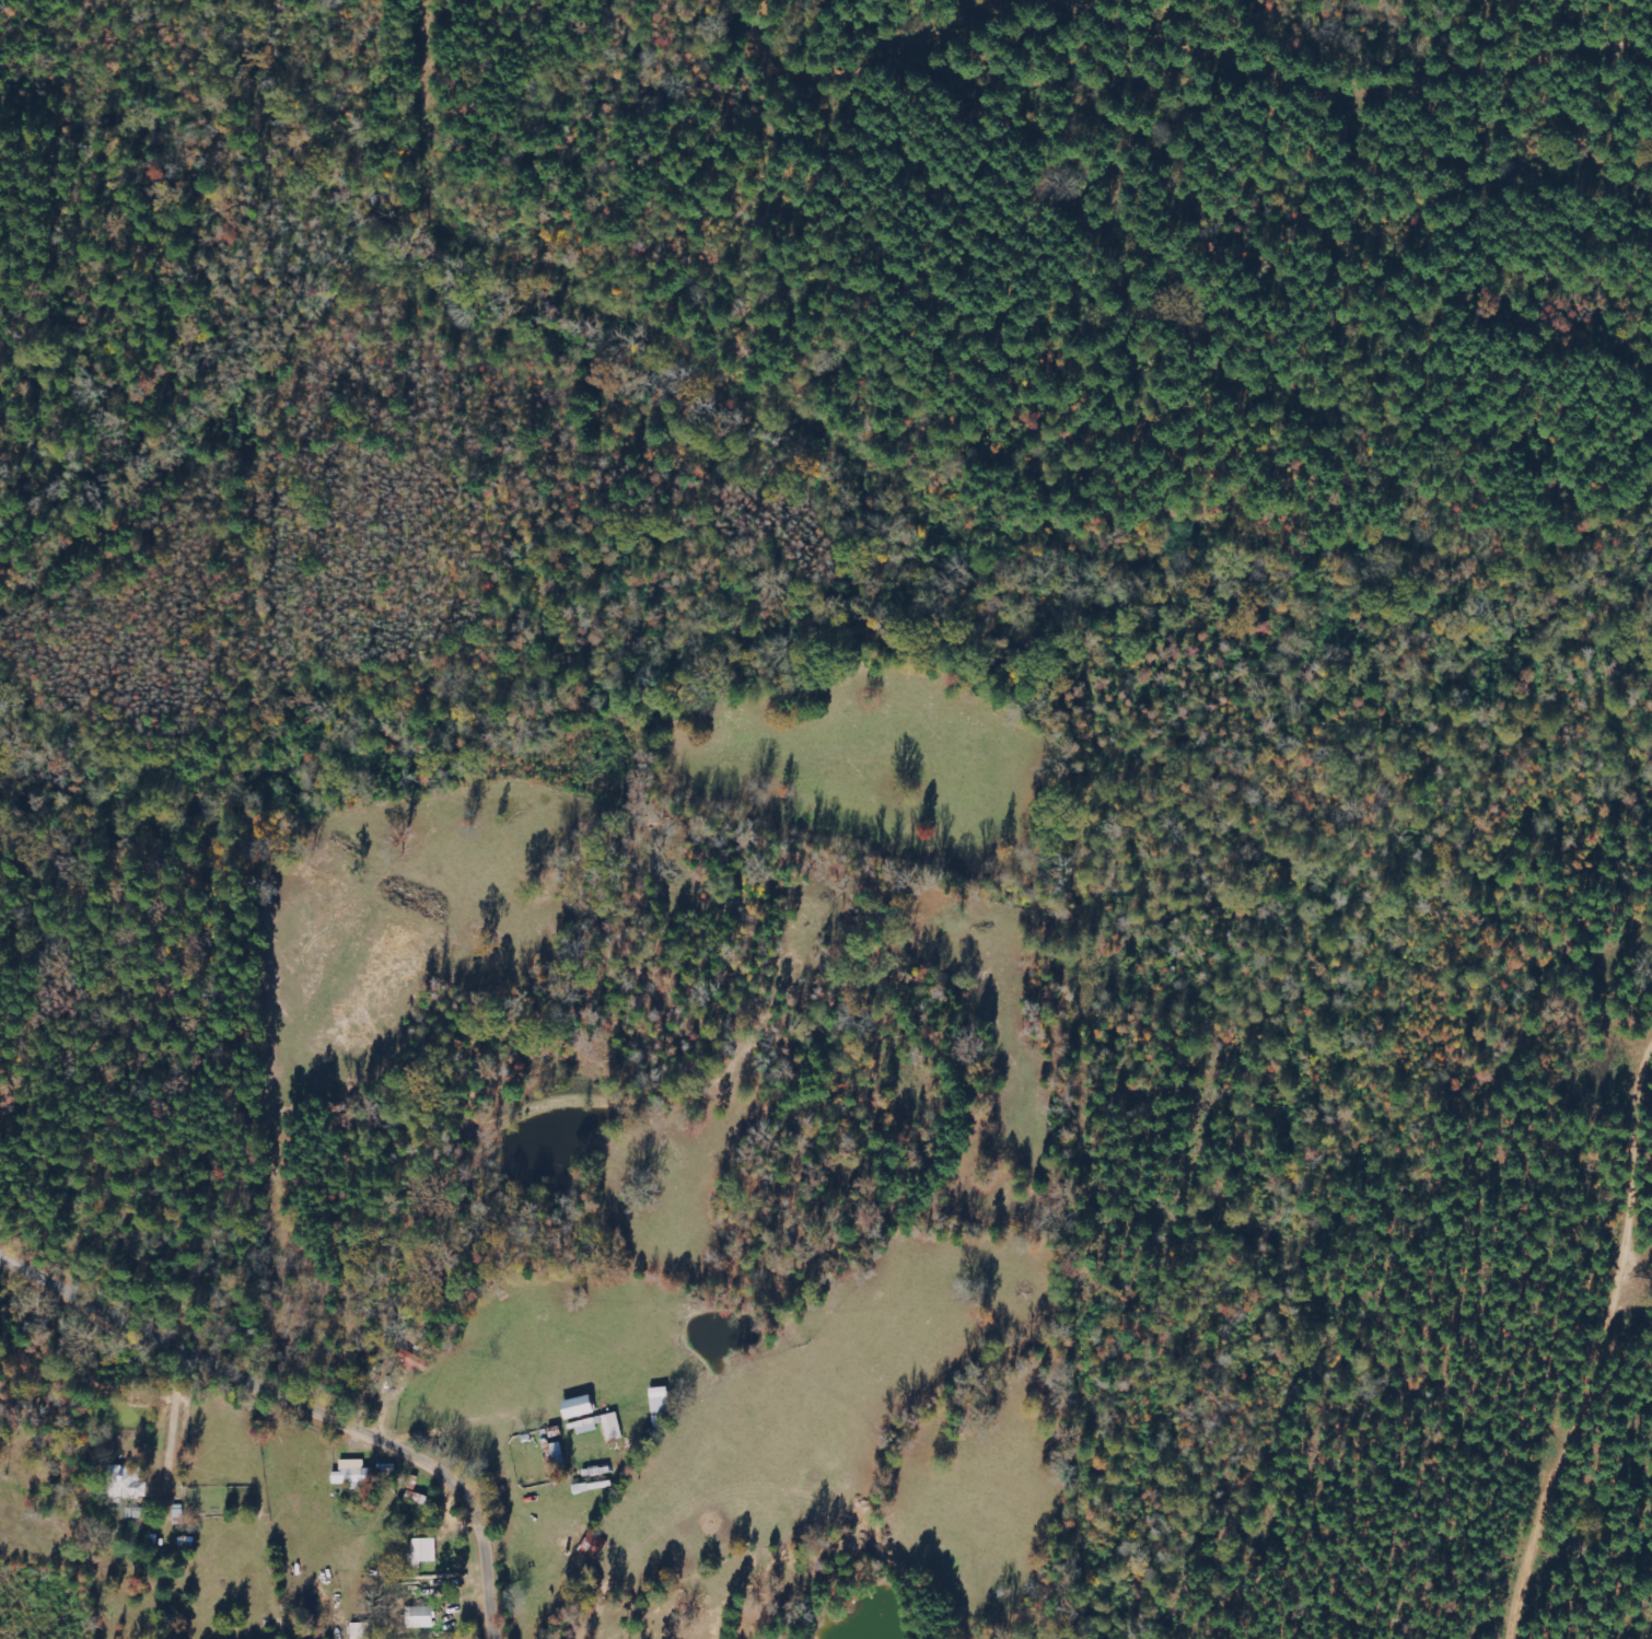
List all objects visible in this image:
building: (412, 1361)
road: (303, 1407)
building: (603, 1426)
building: (354, 1474)
building: (127, 1483)
building: (595, 1545)
building: (424, 1550)
building: (419, 1618)
building: (362, 1630)

